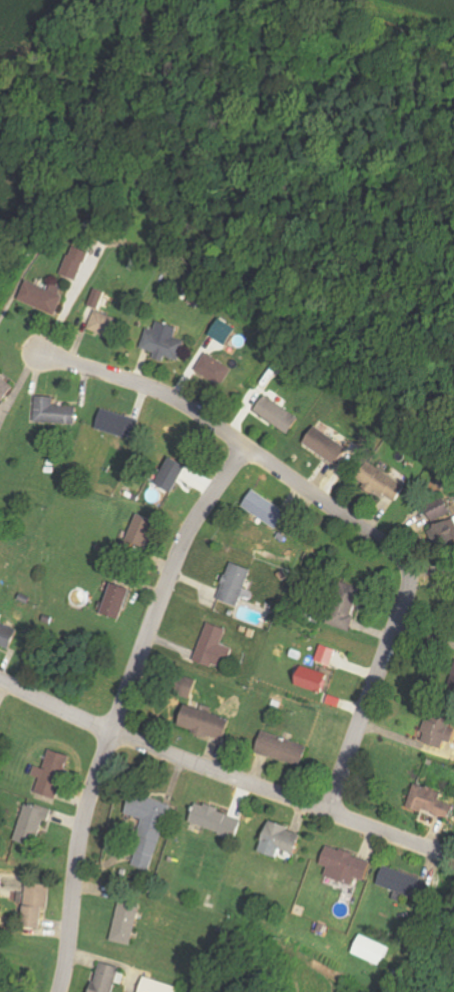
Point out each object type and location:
building: (83, 265)
building: (48, 297)
road: (68, 307)
building: (222, 332)
building: (163, 343)
building: (212, 373)
building: (4, 387)
building: (52, 412)
building: (275, 414)
building: (111, 423)
building: (169, 475)
building: (375, 480)
road: (335, 506)
building: (264, 508)
building: (437, 511)
building: (138, 533)
building: (444, 533)
building: (235, 585)
building: (114, 602)
building: (344, 607)
building: (9, 635)
building: (213, 647)
building: (327, 656)
building: (310, 679)
building: (184, 686)
road: (122, 707)
building: (204, 723)
building: (436, 733)
building: (280, 749)
road: (219, 768)
building: (56, 774)
building: (428, 802)
building: (215, 821)
building: (36, 824)
building: (152, 828)
building: (277, 841)
building: (343, 866)
building: (401, 883)
building: (40, 904)
building: (130, 923)
building: (369, 951)
building: (109, 978)
building: (159, 987)

